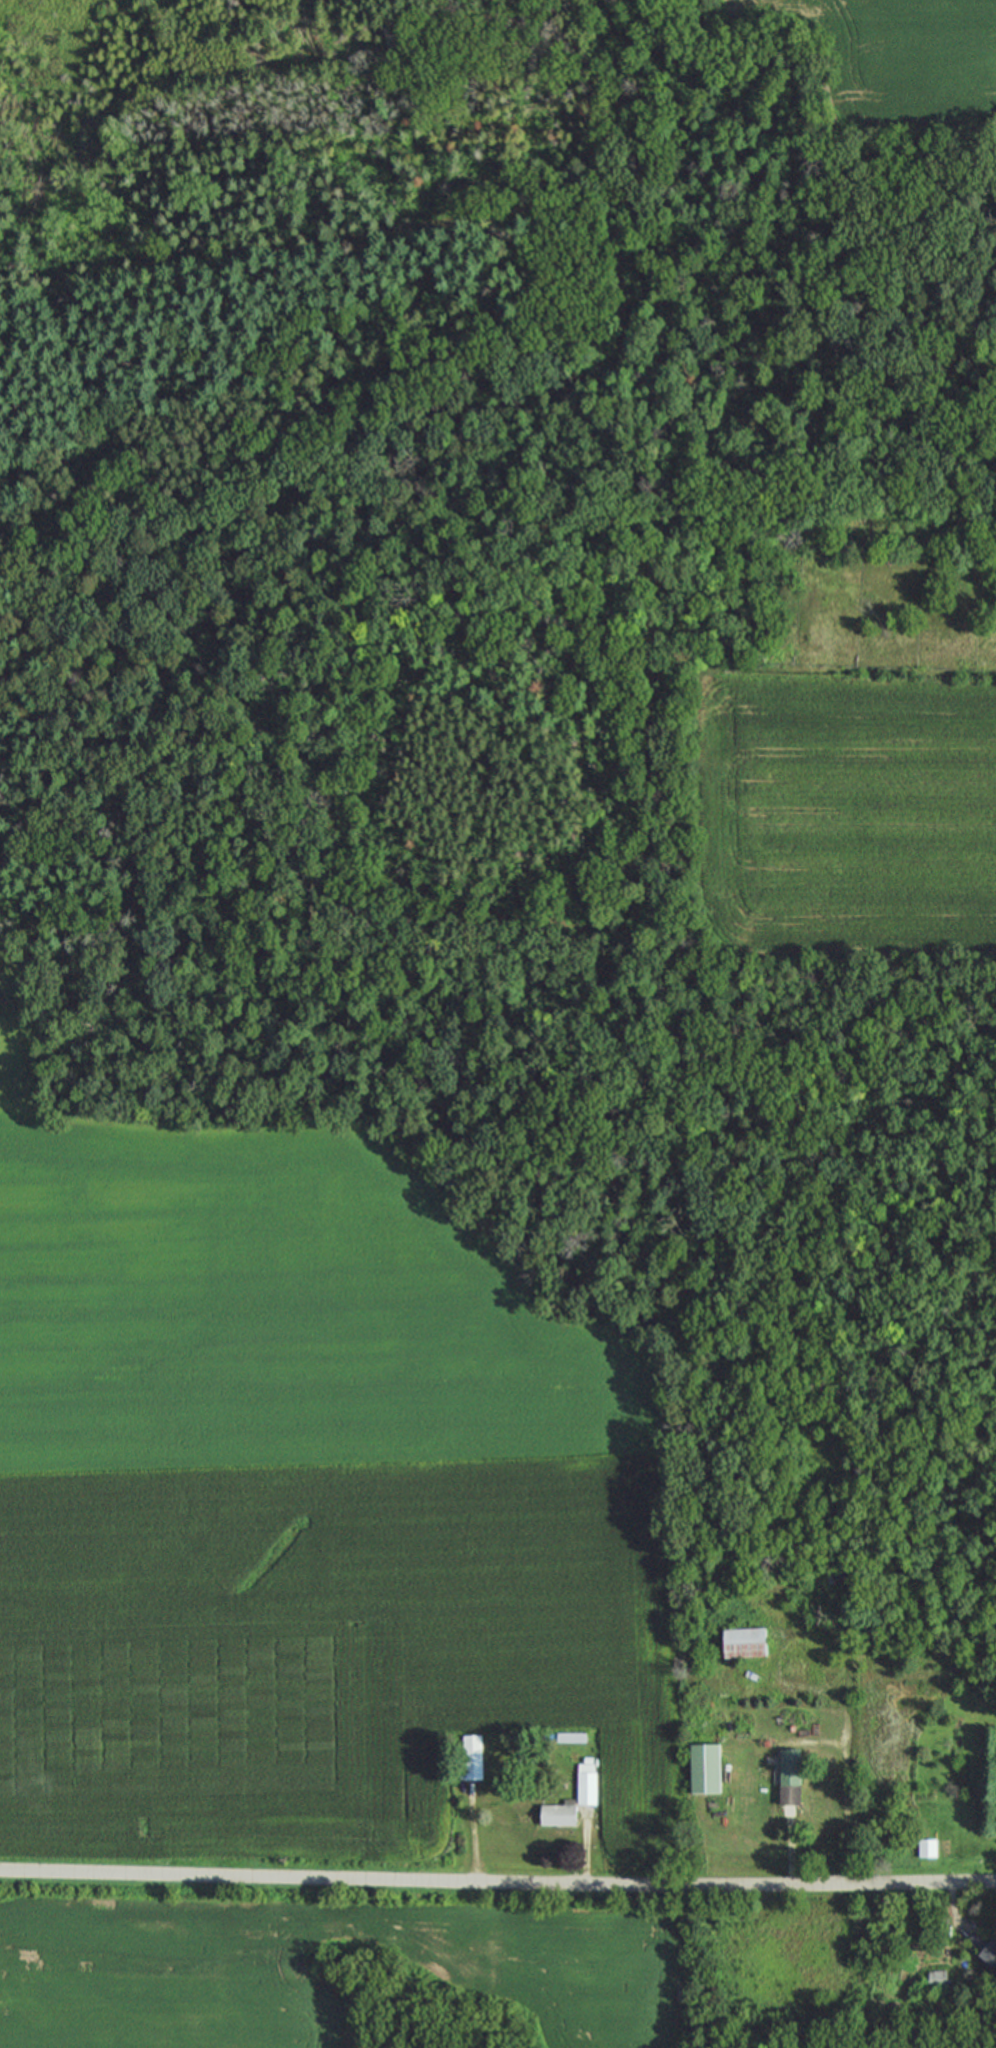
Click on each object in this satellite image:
building: (742, 1643)
building: (470, 1757)
building: (703, 1768)
building: (788, 1777)
building: (585, 1783)
building: (556, 1814)
building: (926, 1848)
road: (497, 1883)
building: (982, 1947)
building: (936, 1979)

